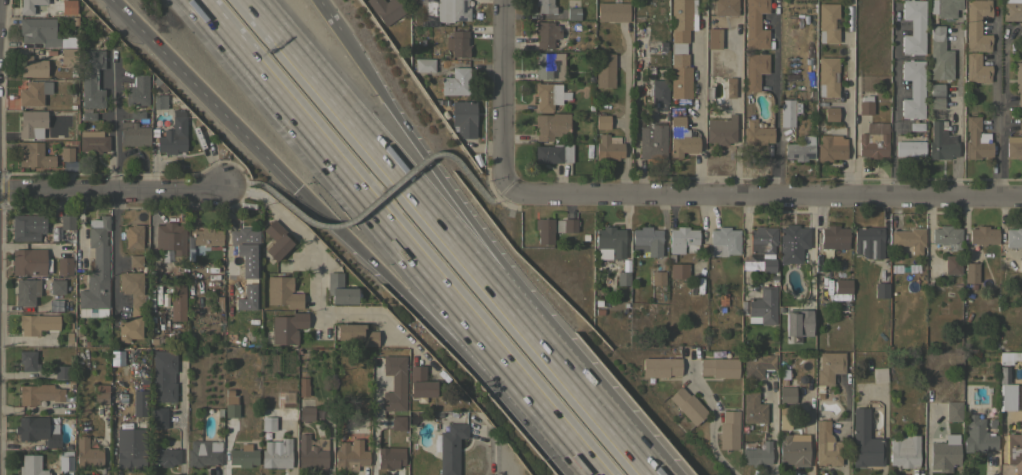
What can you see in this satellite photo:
building: (28, 6)
building: (67, 6)
building: (544, 6)
building: (725, 7)
building: (945, 7)
building: (386, 9)
building: (440, 11)
building: (612, 11)
building: (1012, 11)
building: (572, 13)
road: (330, 17)
building: (827, 22)
building: (754, 24)
building: (977, 25)
building: (913, 26)
building: (38, 31)
building: (545, 33)
building: (713, 38)
building: (457, 43)
building: (680, 47)
building: (939, 55)
building: (68, 56)
building: (424, 64)
building: (548, 65)
building: (32, 66)
building: (976, 68)
building: (754, 69)
building: (604, 70)
building: (827, 76)
building: (91, 78)
building: (455, 80)
building: (1018, 82)
building: (729, 87)
building: (913, 88)
building: (137, 90)
building: (33, 92)
road: (503, 94)
building: (657, 94)
building: (549, 95)
building: (936, 95)
building: (159, 101)
road: (778, 105)
road: (847, 105)
building: (865, 105)
road: (894, 105)
road: (999, 105)
road: (960, 106)
road: (737, 109)
building: (786, 112)
road: (699, 113)
building: (830, 113)
building: (87, 114)
road: (626, 114)
building: (463, 118)
building: (602, 121)
building: (31, 123)
building: (1020, 124)
building: (550, 125)
building: (915, 126)
building: (721, 130)
building: (756, 133)
building: (133, 134)
building: (173, 134)
building: (680, 138)
building: (652, 140)
building: (873, 140)
building: (976, 140)
building: (92, 141)
building: (940, 141)
building: (1014, 146)
building: (608, 147)
building: (831, 148)
building: (909, 148)
building: (800, 149)
building: (66, 153)
building: (553, 153)
building: (32, 155)
road: (393, 162)
road: (441, 177)
road: (116, 180)
road: (475, 184)
road: (244, 185)
road: (764, 195)
road: (273, 209)
road: (356, 217)
building: (565, 225)
building: (27, 226)
building: (62, 226)
road: (387, 230)
building: (544, 230)
road: (344, 232)
building: (982, 235)
building: (133, 236)
building: (947, 236)
building: (1013, 236)
building: (170, 237)
building: (206, 237)
building: (833, 237)
building: (242, 238)
building: (645, 238)
building: (908, 238)
building: (682, 239)
building: (276, 240)
building: (723, 241)
building: (868, 241)
building: (609, 242)
building: (792, 243)
road: (810, 248)
building: (761, 249)
building: (135, 261)
building: (28, 262)
building: (248, 264)
building: (951, 264)
building: (1021, 265)
building: (64, 266)
building: (231, 267)
building: (678, 270)
building: (95, 271)
building: (971, 272)
building: (623, 273)
building: (657, 277)
building: (57, 285)
building: (842, 286)
building: (338, 289)
building: (880, 289)
building: (26, 291)
building: (282, 292)
building: (247, 297)
building: (177, 301)
building: (131, 306)
building: (762, 306)
building: (798, 322)
building: (37, 323)
building: (287, 327)
building: (356, 333)
building: (27, 360)
building: (756, 364)
building: (828, 366)
building: (660, 367)
building: (718, 367)
building: (61, 372)
building: (878, 373)
building: (163, 377)
building: (420, 382)
building: (394, 383)
building: (1004, 385)
building: (302, 386)
building: (1019, 387)
building: (38, 393)
building: (786, 394)
building: (100, 397)
road: (593, 399)
building: (139, 402)
building: (360, 404)
building: (953, 404)
building: (687, 405)
building: (753, 408)
building: (1021, 408)
building: (1003, 409)
building: (231, 410)
building: (306, 413)
building: (159, 417)
road: (181, 418)
building: (267, 418)
building: (397, 422)
building: (784, 423)
road: (771, 425)
road: (712, 426)
road: (373, 427)
road: (845, 429)
building: (36, 430)
building: (728, 430)
building: (977, 435)
building: (863, 441)
building: (450, 444)
building: (825, 445)
building: (130, 448)
building: (793, 449)
building: (1014, 450)
building: (275, 451)
building: (903, 451)
building: (86, 453)
building: (203, 453)
building: (312, 453)
building: (945, 453)
building: (243, 455)
building: (350, 455)
building: (756, 455)
building: (164, 456)
building: (390, 457)
building: (65, 460)
building: (30, 465)
road: (586, 467)

